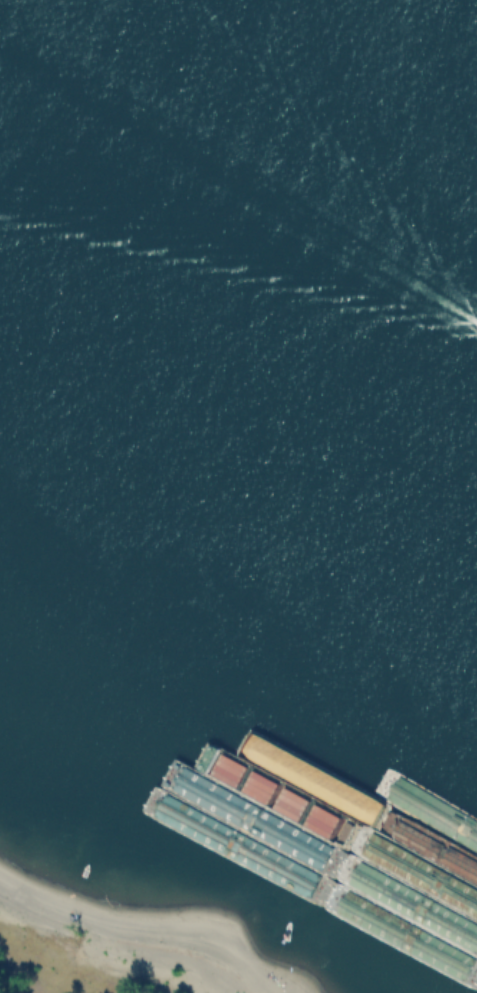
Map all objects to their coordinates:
river: (238, 370)

